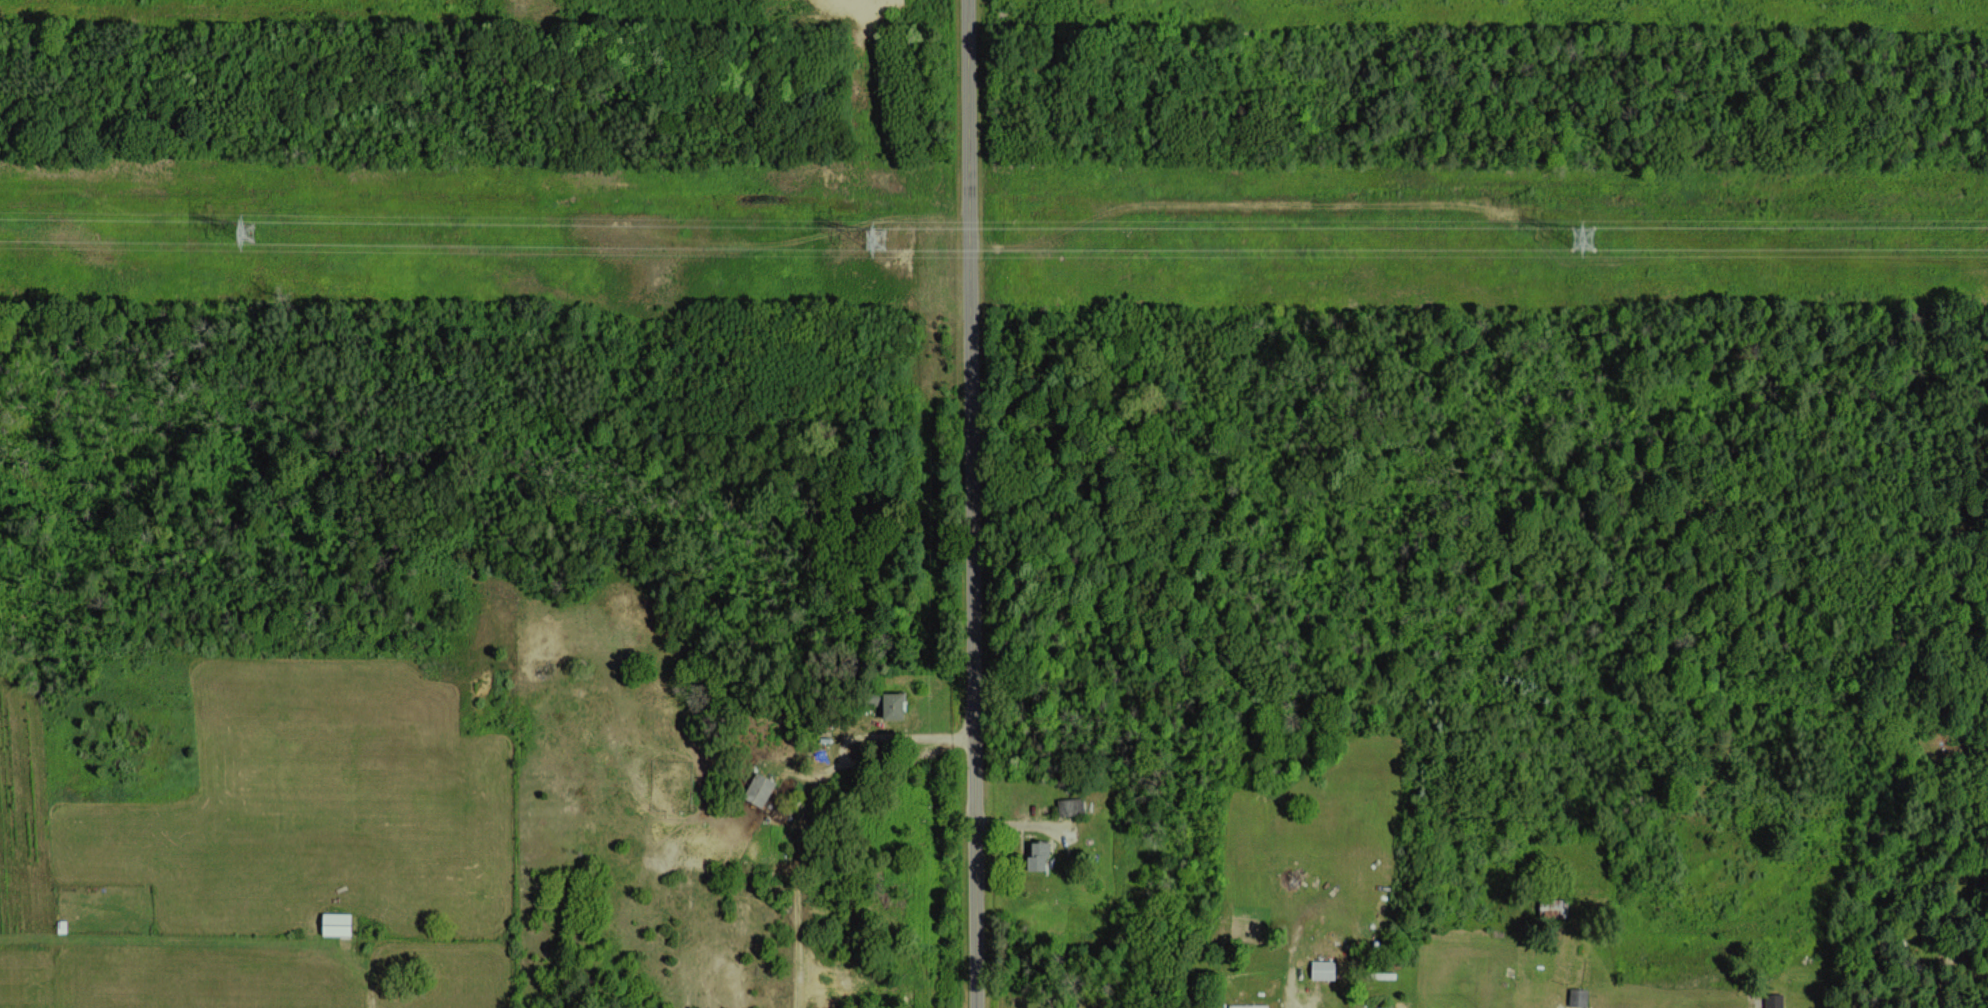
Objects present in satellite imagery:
power tower: (249, 231)
power tower: (882, 236)
power tower: (1585, 238)
road: (970, 504)
building: (889, 705)
building: (758, 789)
building: (1070, 806)
building: (1035, 856)
building: (1552, 908)
building: (335, 923)
building: (1577, 997)
building: (1773, 1000)
building: (1246, 1006)
building: (1382, 1007)

